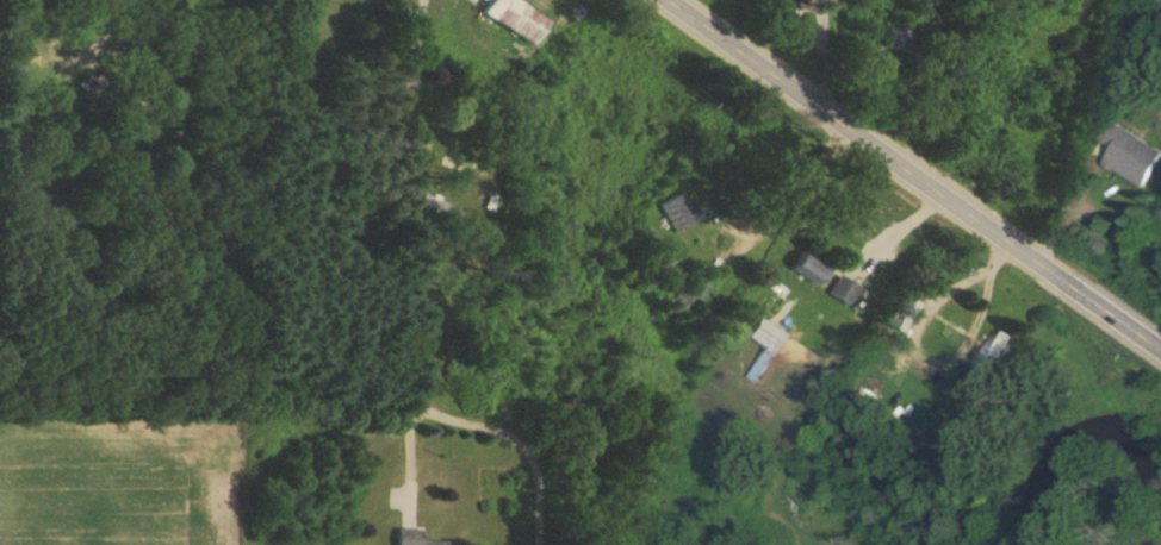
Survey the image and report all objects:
building: (769, 4)
building: (511, 17)
building: (894, 43)
building: (7, 58)
building: (1119, 140)
building: (458, 163)
road: (913, 174)
building: (437, 206)
building: (676, 212)
road: (410, 242)
building: (806, 265)
building: (662, 270)
building: (689, 293)
building: (900, 313)
building: (765, 334)
building: (987, 355)
building: (758, 365)
building: (412, 538)

